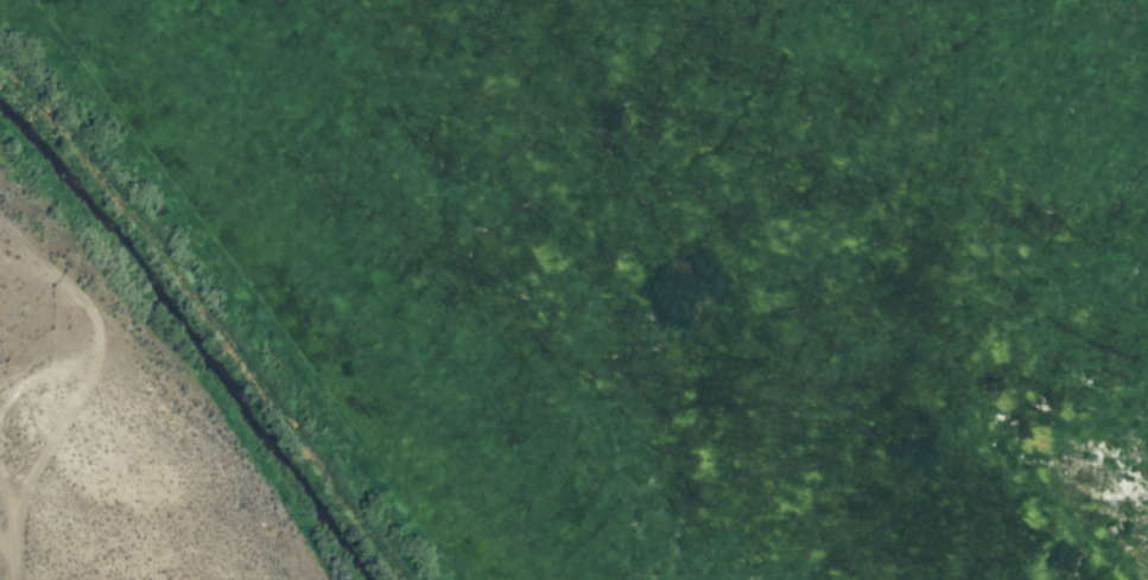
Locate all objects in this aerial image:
road: (78, 390)

